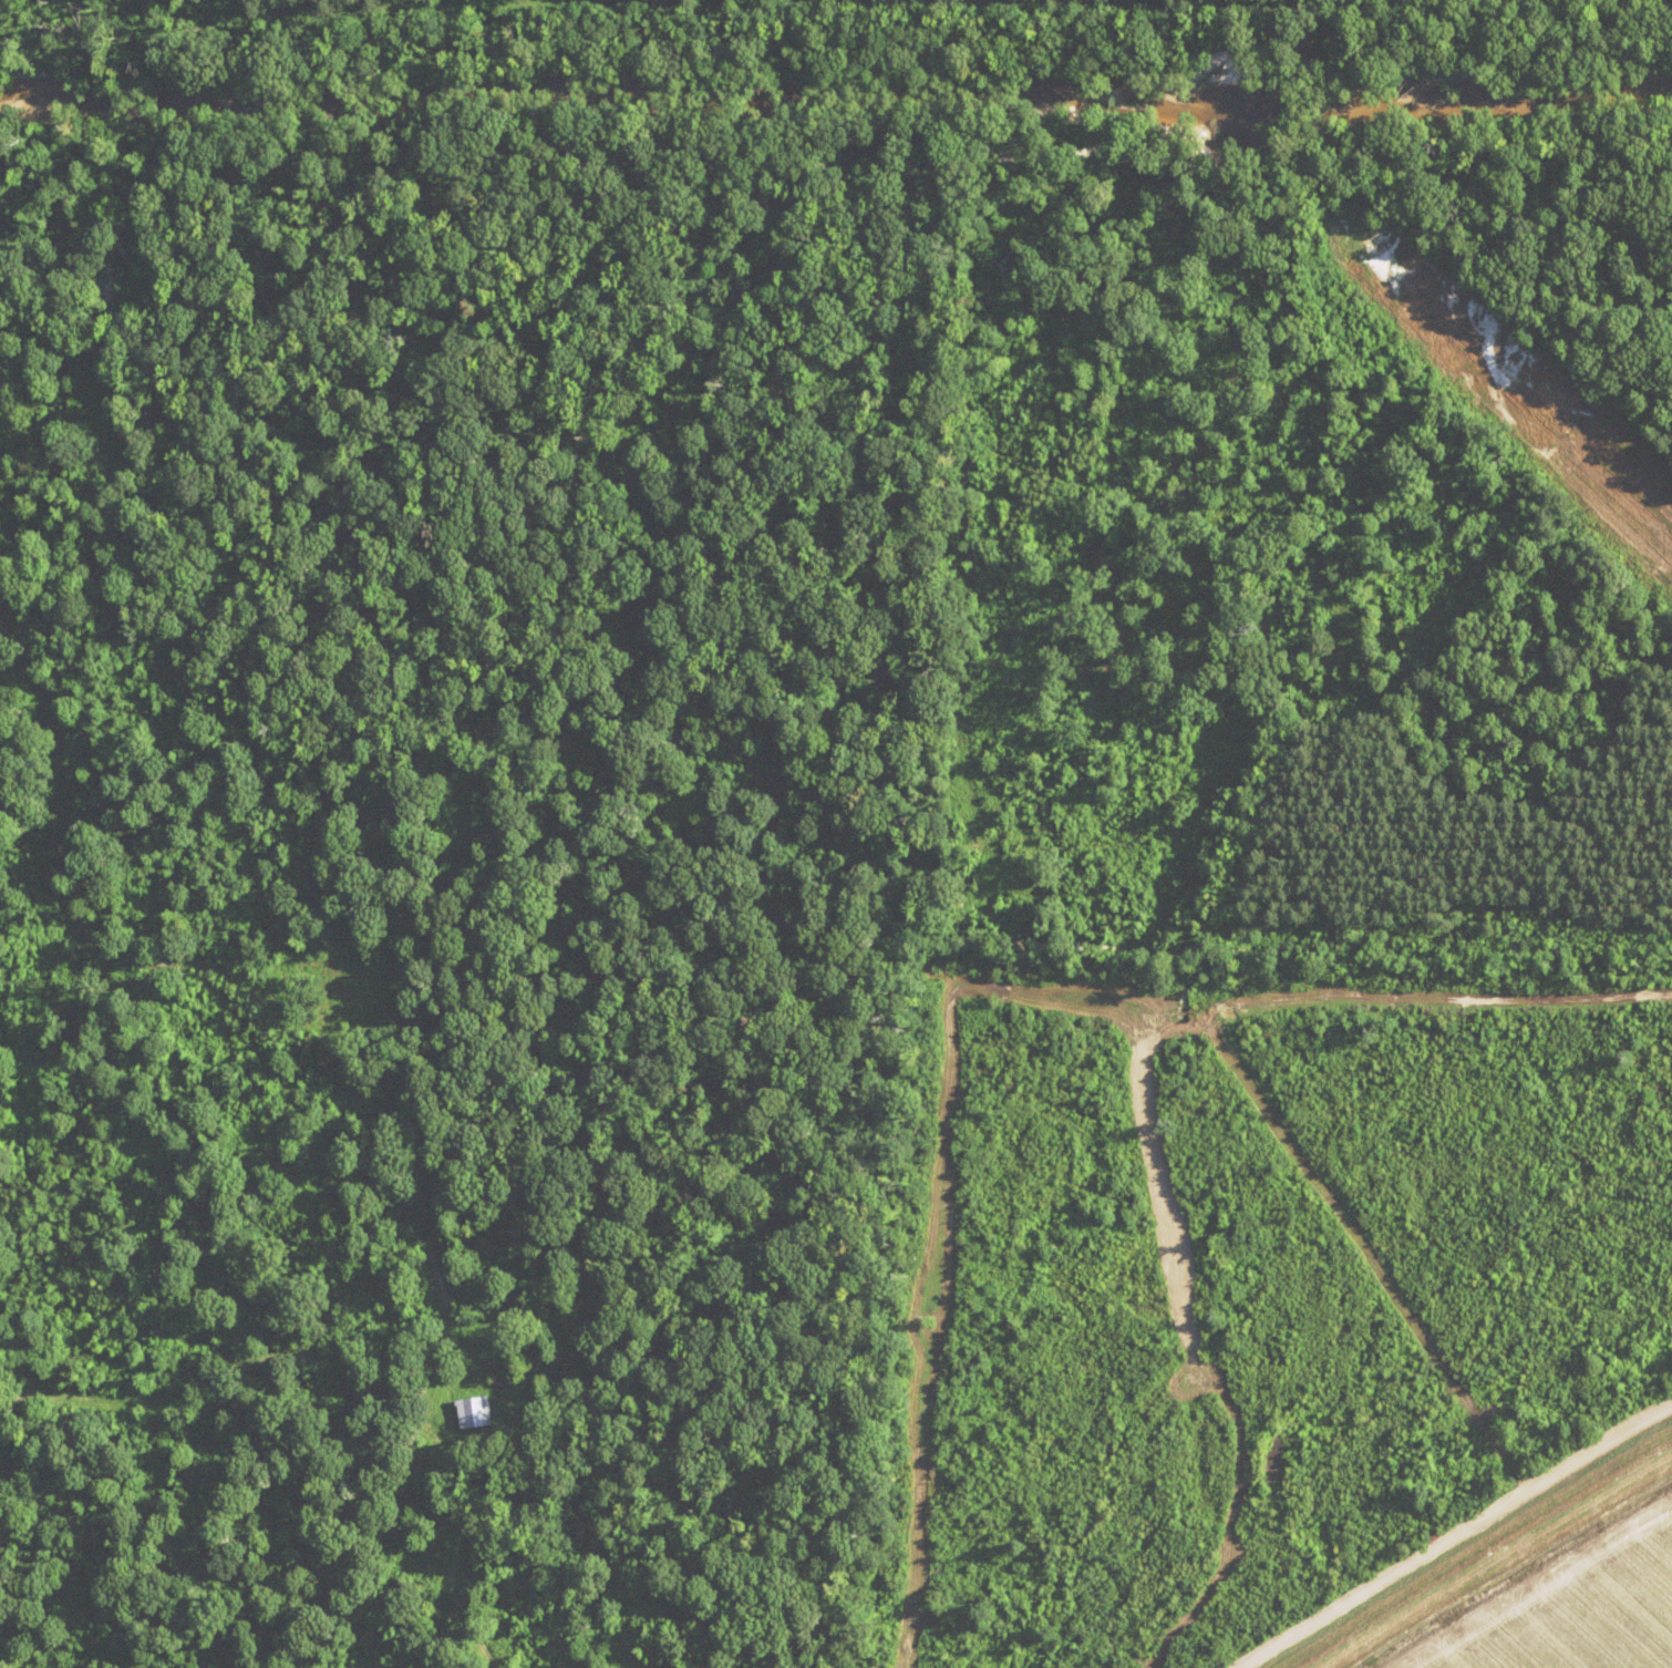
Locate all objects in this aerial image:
building: (475, 1411)

